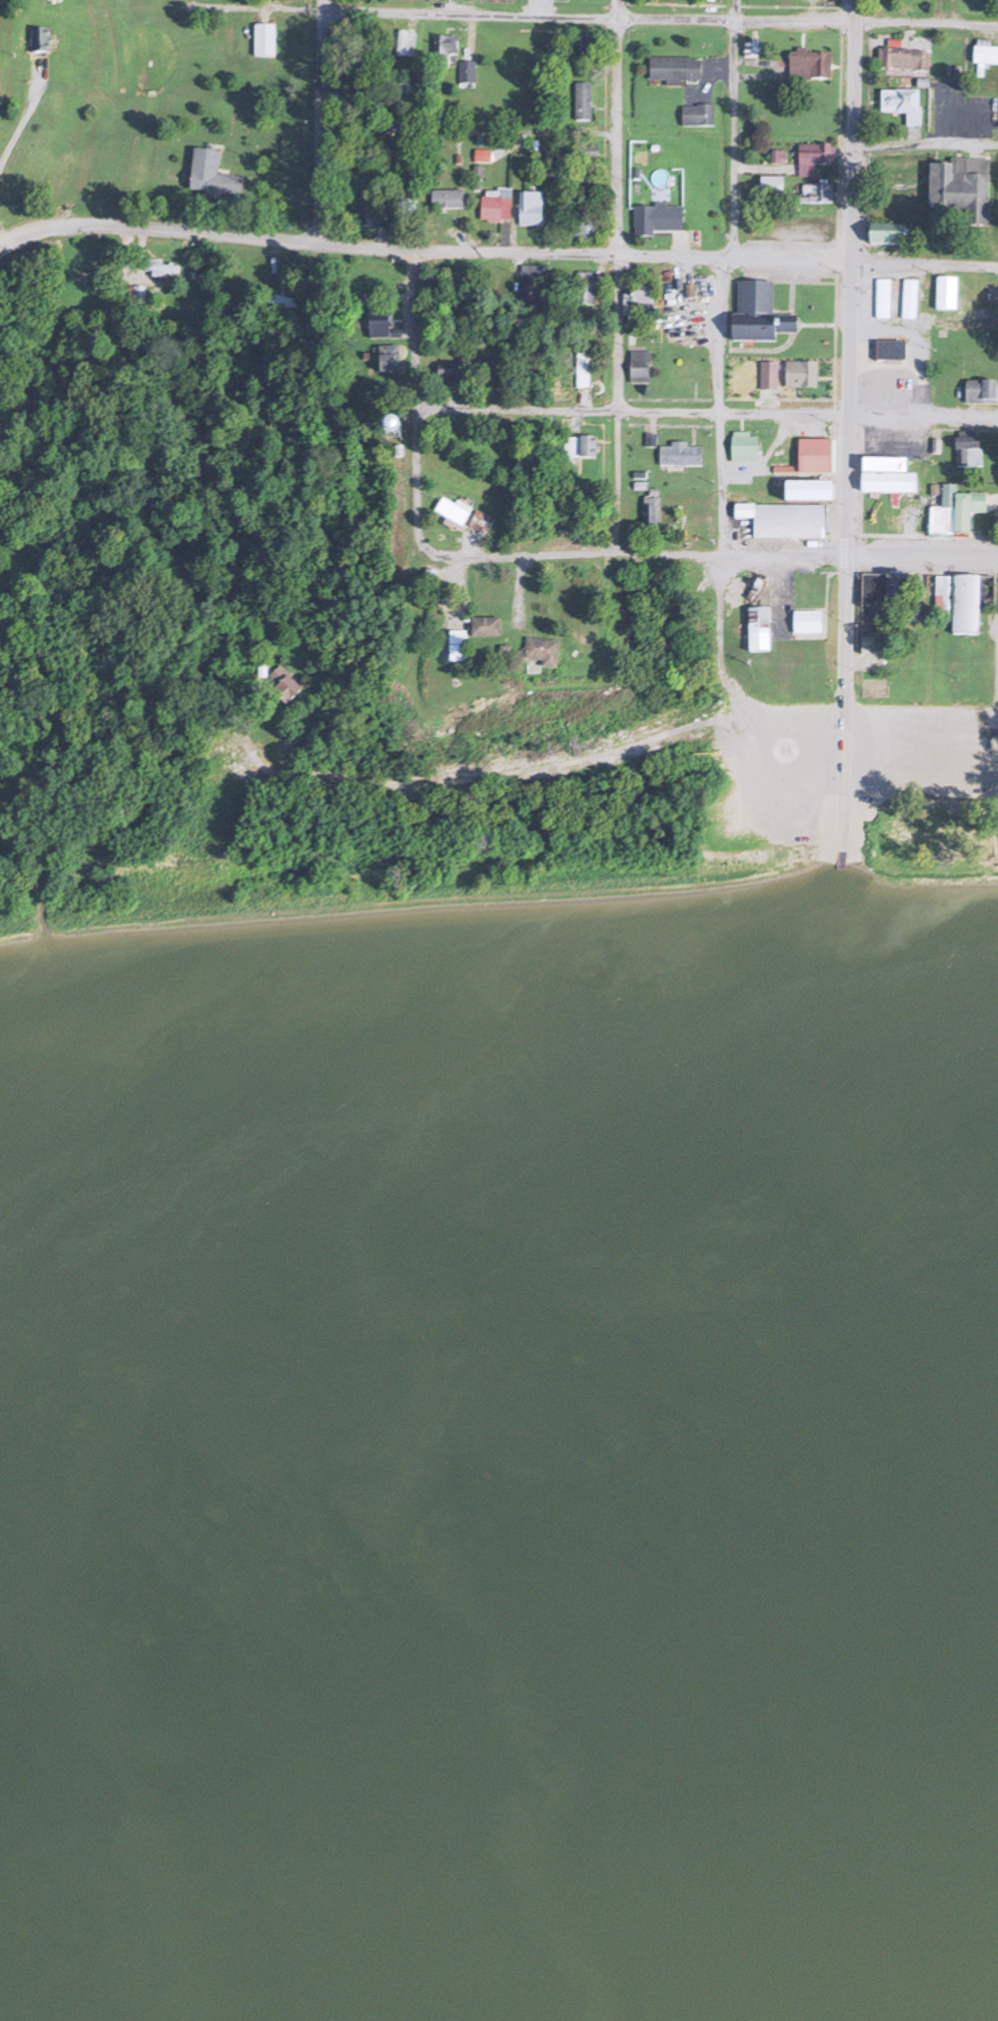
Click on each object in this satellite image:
road: (321, 4)
road: (530, 8)
road: (659, 18)
road: (406, 19)
road: (469, 33)
building: (36, 40)
building: (263, 41)
building: (404, 44)
building: (357, 45)
building: (442, 48)
building: (578, 50)
building: (985, 50)
building: (751, 51)
building: (901, 56)
building: (811, 59)
road: (705, 66)
building: (670, 67)
road: (759, 74)
building: (467, 75)
building: (343, 98)
building: (580, 98)
building: (397, 101)
building: (908, 102)
parking lot: (963, 110)
building: (695, 113)
road: (26, 119)
road: (319, 123)
road: (421, 125)
road: (731, 128)
road: (569, 130)
road: (925, 144)
building: (379, 149)
building: (811, 156)
building: (778, 158)
road: (761, 163)
building: (209, 169)
building: (575, 174)
building: (960, 182)
road: (887, 183)
road: (514, 186)
building: (771, 187)
building: (810, 190)
building: (443, 197)
building: (528, 204)
building: (488, 208)
building: (404, 210)
building: (366, 212)
building: (655, 216)
building: (576, 226)
road: (456, 230)
road: (467, 230)
road: (543, 232)
building: (886, 232)
road: (381, 233)
road: (356, 240)
road: (181, 244)
road: (272, 257)
road: (725, 257)
road: (791, 259)
road: (512, 260)
road: (923, 262)
building: (163, 270)
road: (618, 276)
building: (457, 278)
road: (400, 281)
building: (530, 281)
road: (787, 283)
building: (583, 287)
building: (943, 291)
road: (397, 295)
building: (139, 296)
building: (893, 296)
parking lot: (687, 298)
building: (640, 302)
building: (286, 308)
building: (757, 312)
building: (376, 320)
road: (815, 320)
road: (716, 336)
road: (833, 338)
road: (754, 346)
building: (889, 348)
building: (382, 361)
building: (638, 365)
building: (452, 372)
building: (582, 373)
building: (797, 374)
road: (823, 375)
building: (768, 377)
building: (880, 391)
building: (978, 391)
road: (414, 392)
road: (451, 398)
road: (767, 404)
road: (567, 410)
road: (858, 416)
road: (845, 427)
building: (378, 430)
parking lot: (895, 437)
road: (770, 440)
building: (741, 445)
building: (578, 449)
building: (966, 449)
building: (678, 453)
water tower: (393, 456)
building: (812, 457)
building: (391, 460)
building: (743, 470)
building: (885, 477)
building: (807, 493)
building: (965, 508)
building: (939, 510)
building: (647, 511)
building: (453, 515)
building: (782, 521)
building: (479, 524)
road: (910, 529)
road: (856, 537)
road: (467, 546)
road: (628, 554)
road: (920, 555)
road: (834, 559)
road: (722, 566)
building: (911, 585)
road: (452, 590)
building: (870, 591)
building: (893, 593)
building: (986, 593)
building: (941, 598)
building: (965, 608)
building: (805, 627)
building: (755, 631)
building: (484, 637)
building: (532, 653)
road: (996, 655)
road: (619, 665)
building: (539, 666)
building: (282, 684)
road: (993, 728)
road: (668, 735)
road: (267, 761)
building: (816, 973)
river: (493, 1663)

